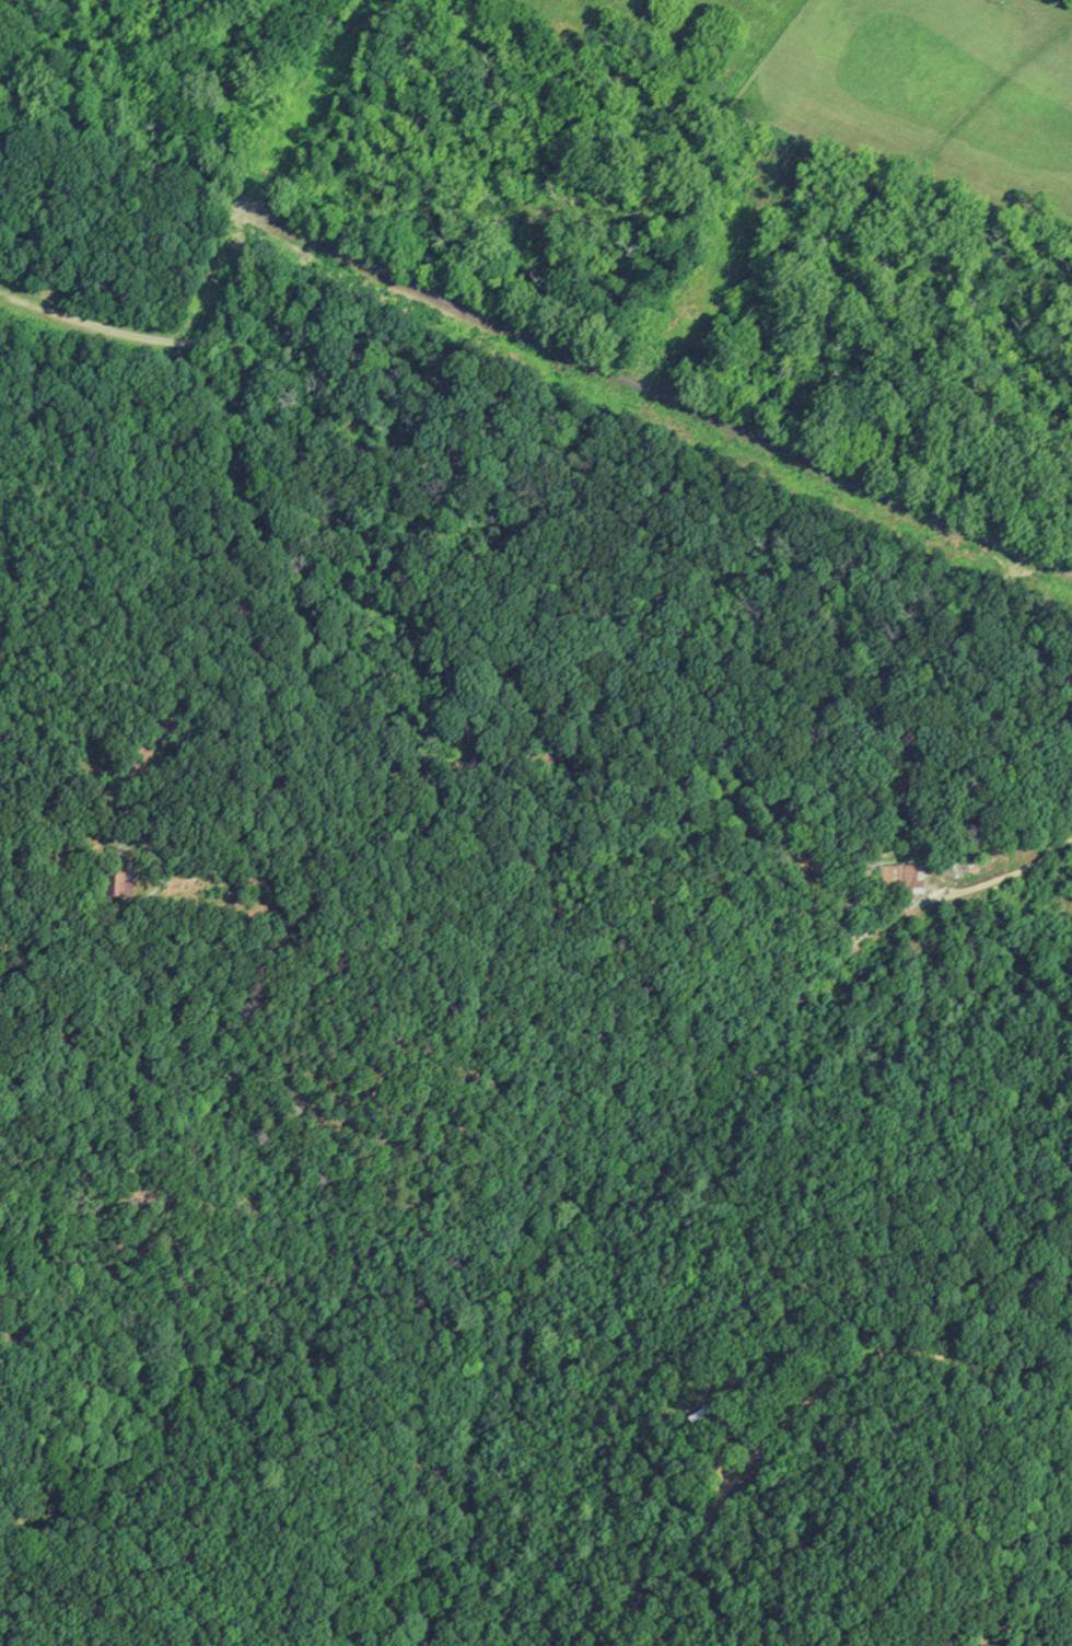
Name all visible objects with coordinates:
road: (117, 143)
road: (179, 341)
road: (652, 390)
road: (245, 426)
road: (1035, 642)
building: (906, 878)
road: (986, 884)
road: (907, 1087)
road: (1004, 1245)
road: (814, 1279)
road: (808, 1401)

